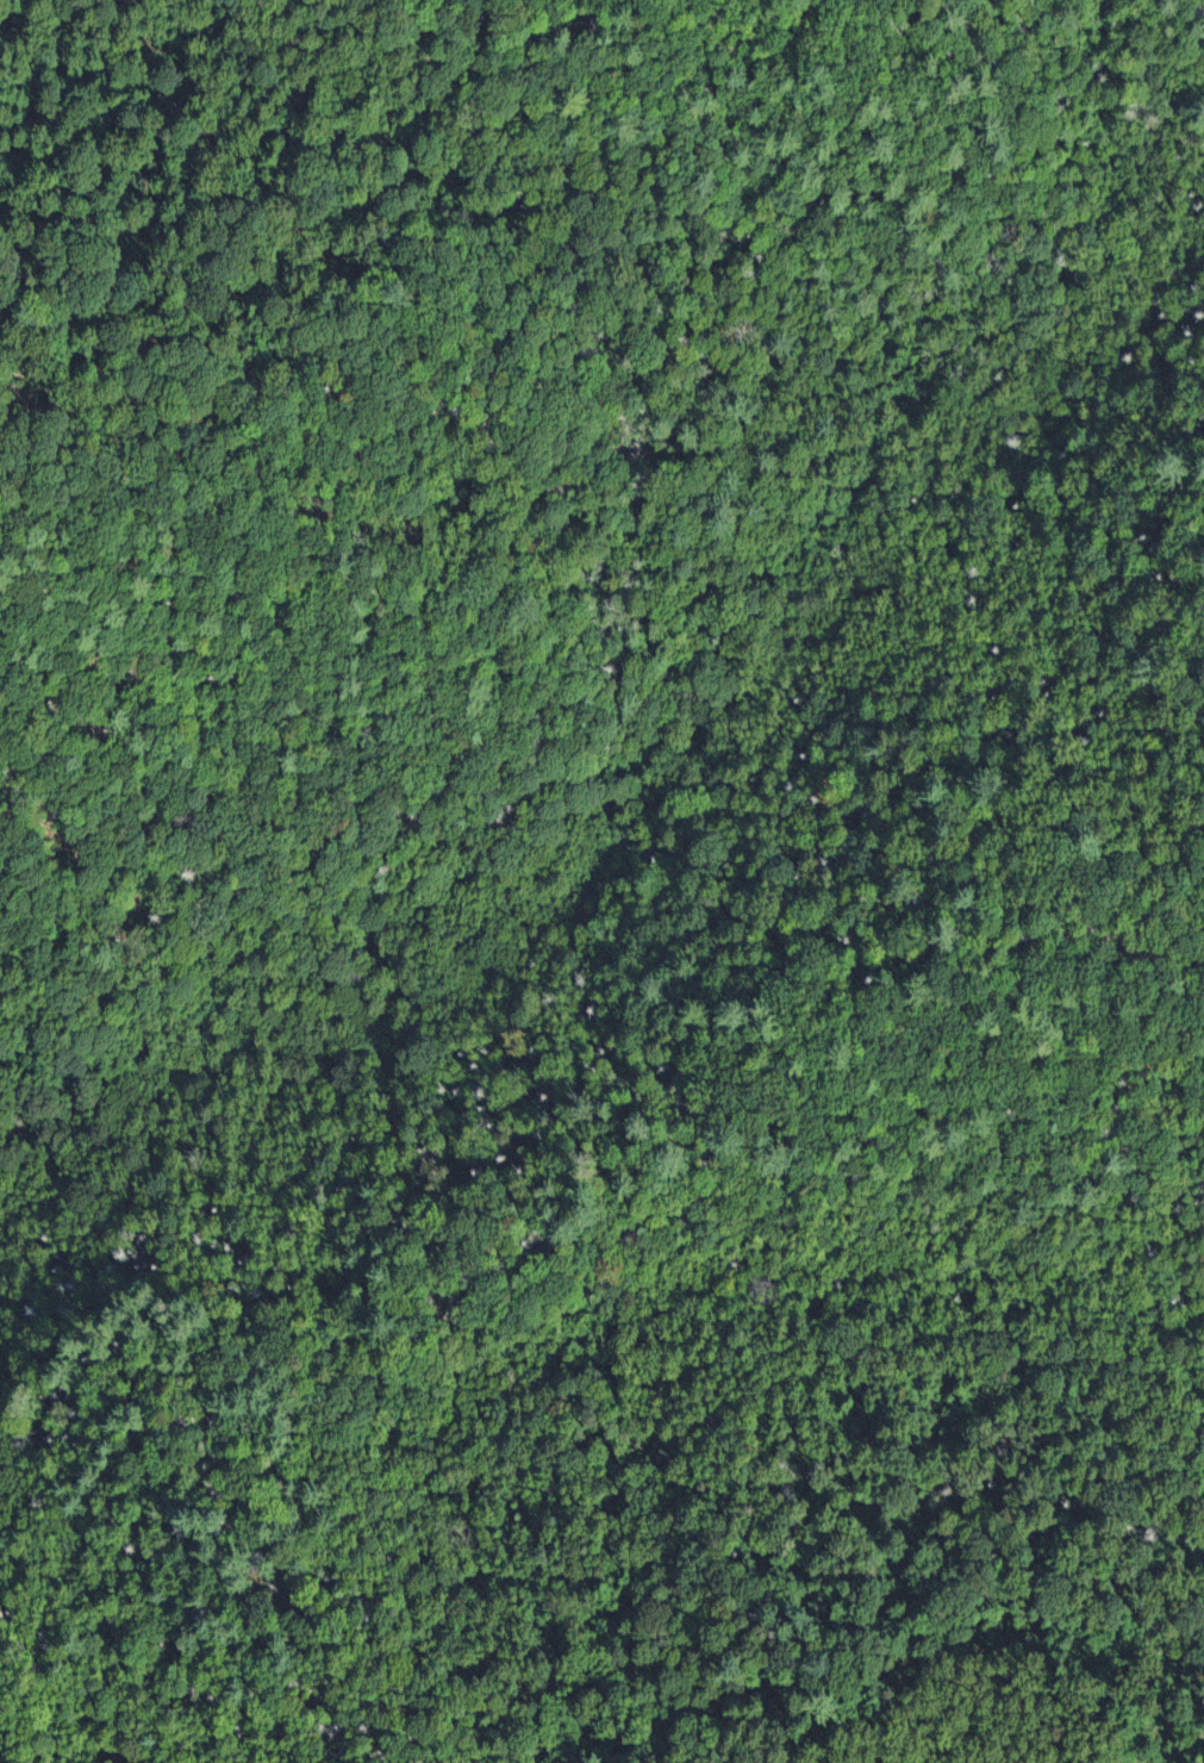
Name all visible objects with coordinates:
road: (501, 1528)

